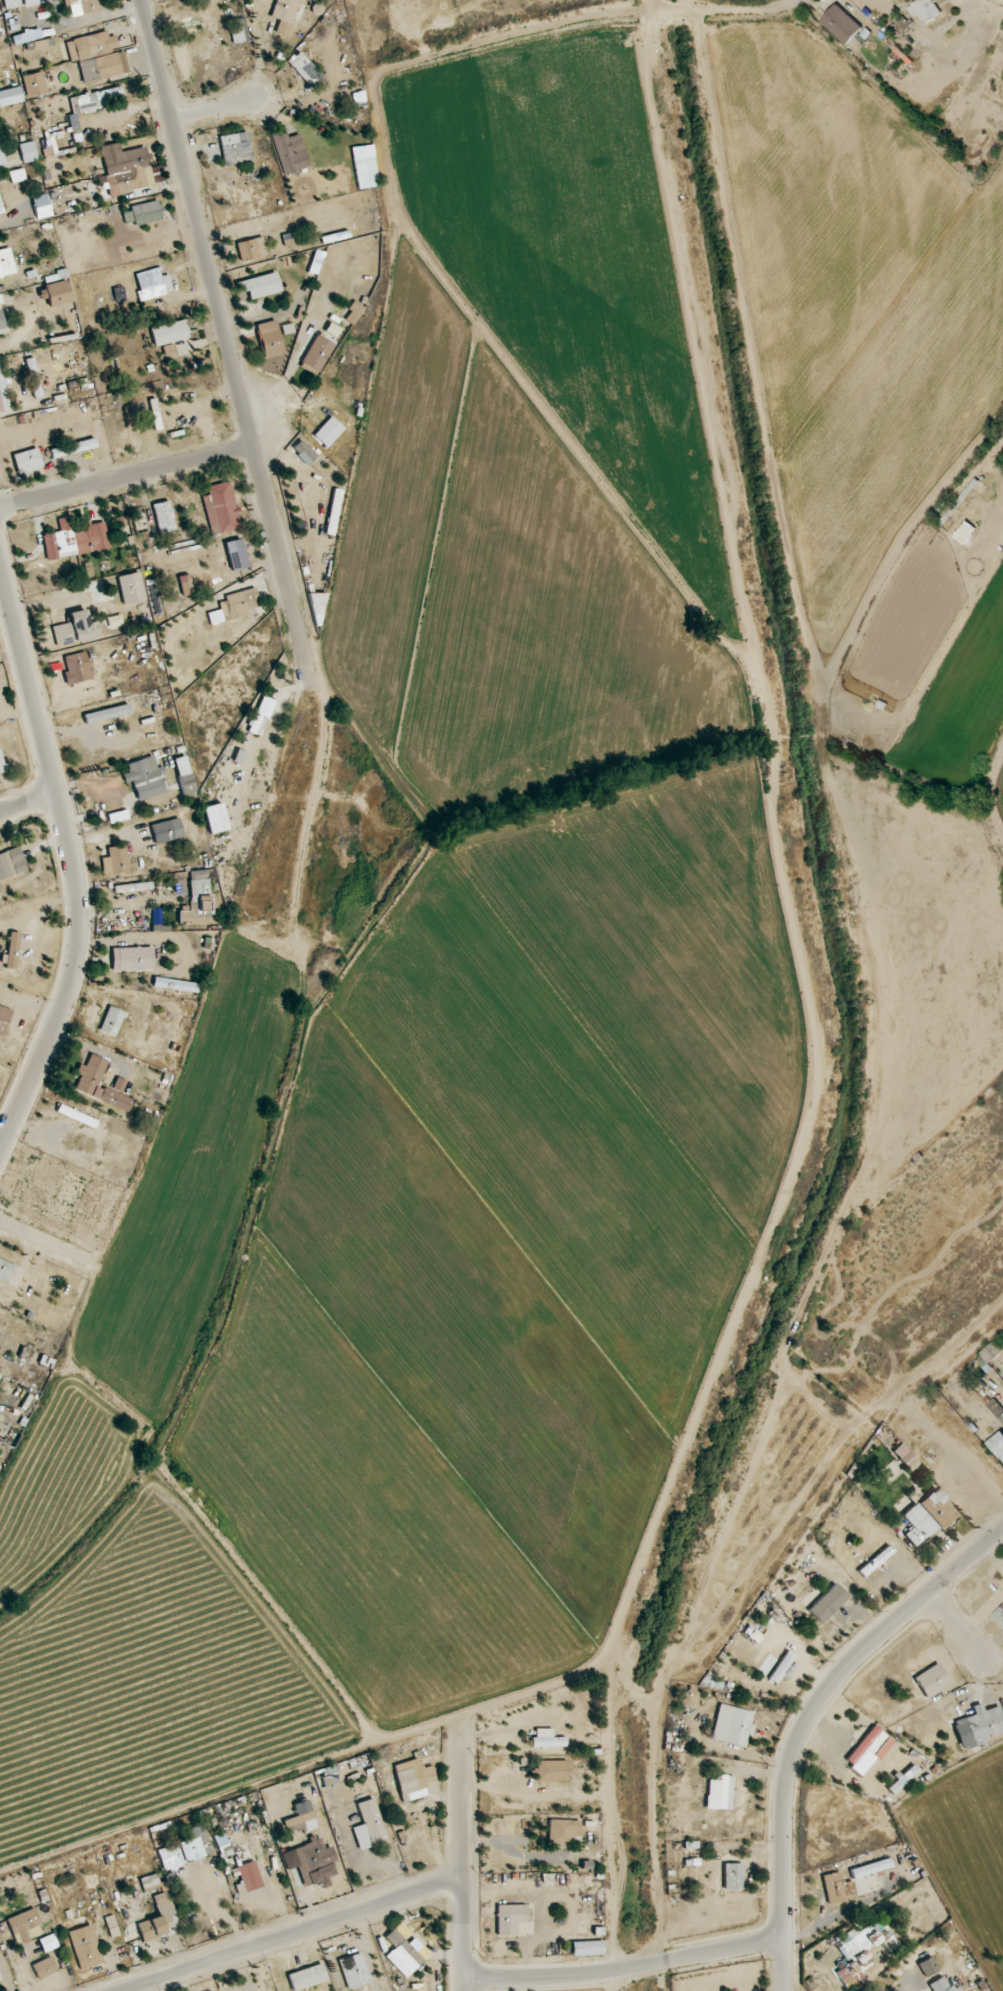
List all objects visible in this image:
building: (906, 0)
building: (18, 3)
building: (83, 6)
building: (187, 9)
building: (285, 9)
road: (730, 10)
building: (925, 10)
building: (842, 24)
building: (237, 30)
building: (97, 56)
building: (304, 68)
building: (34, 84)
building: (96, 99)
road: (214, 109)
building: (46, 147)
building: (234, 148)
building: (28, 152)
building: (287, 153)
building: (1, 156)
building: (364, 166)
building: (128, 171)
building: (17, 175)
building: (41, 206)
building: (0, 212)
building: (143, 213)
building: (288, 240)
building: (251, 249)
building: (2, 263)
building: (150, 284)
building: (260, 285)
building: (353, 313)
road: (220, 319)
building: (1, 322)
building: (169, 333)
building: (270, 339)
building: (316, 353)
building: (33, 378)
building: (67, 415)
building: (327, 430)
building: (73, 448)
building: (304, 452)
building: (27, 461)
road: (126, 477)
building: (220, 509)
building: (333, 512)
building: (75, 539)
building: (241, 552)
building: (238, 604)
building: (316, 608)
building: (76, 632)
building: (76, 668)
building: (261, 716)
building: (2, 764)
building: (144, 778)
building: (186, 784)
road: (28, 802)
building: (163, 832)
building: (115, 860)
building: (11, 863)
road: (72, 863)
building: (198, 904)
building: (12, 951)
building: (132, 960)
building: (177, 985)
building: (112, 1021)
building: (3, 1022)
building: (89, 1081)
road: (45, 1238)
building: (991, 1351)
building: (1002, 1417)
building: (998, 1444)
building: (926, 1515)
building: (875, 1561)
building: (827, 1603)
building: (999, 1615)
road: (963, 1630)
building: (781, 1667)
building: (932, 1680)
building: (688, 1698)
road: (806, 1719)
building: (732, 1725)
building: (979, 1726)
building: (546, 1739)
building: (867, 1749)
building: (551, 1770)
building: (412, 1779)
building: (901, 1780)
road: (522, 1785)
road: (470, 1786)
building: (720, 1793)
building: (369, 1826)
building: (255, 1827)
building: (562, 1831)
road: (471, 1841)
building: (222, 1842)
building: (186, 1850)
road: (363, 1858)
road: (520, 1859)
road: (462, 1860)
road: (299, 1866)
building: (129, 1868)
building: (870, 1868)
building: (248, 1872)
building: (733, 1876)
building: (149, 1882)
road: (402, 1887)
building: (837, 1888)
road: (400, 1907)
road: (316, 1916)
building: (159, 1919)
building: (512, 1920)
building: (25, 1926)
road: (294, 1935)
road: (417, 1940)
building: (48, 1943)
building: (85, 1947)
building: (587, 1948)
building: (403, 1953)
building: (856, 1954)
road: (454, 1956)
building: (927, 1966)
building: (45, 1968)
road: (625, 1969)
building: (354, 1971)
building: (307, 1978)
building: (941, 1985)

